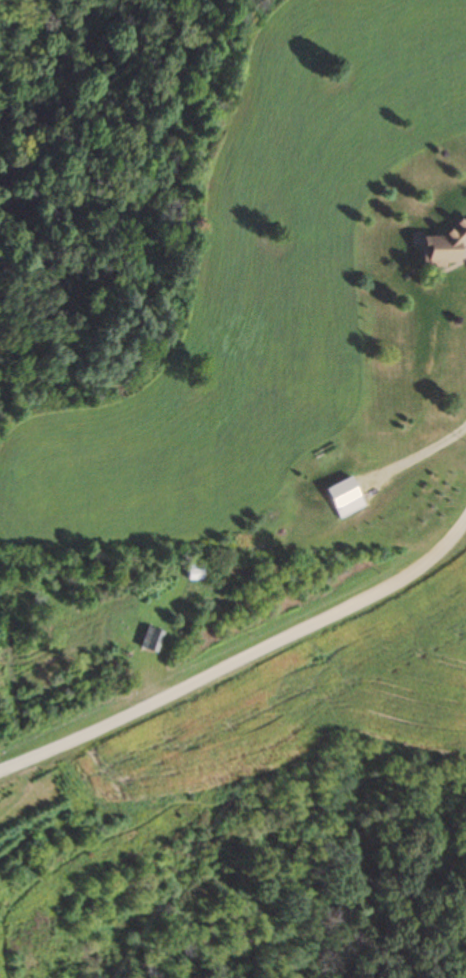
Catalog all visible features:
building: (446, 248)
building: (343, 493)
building: (195, 573)
building: (150, 640)
road: (247, 672)

